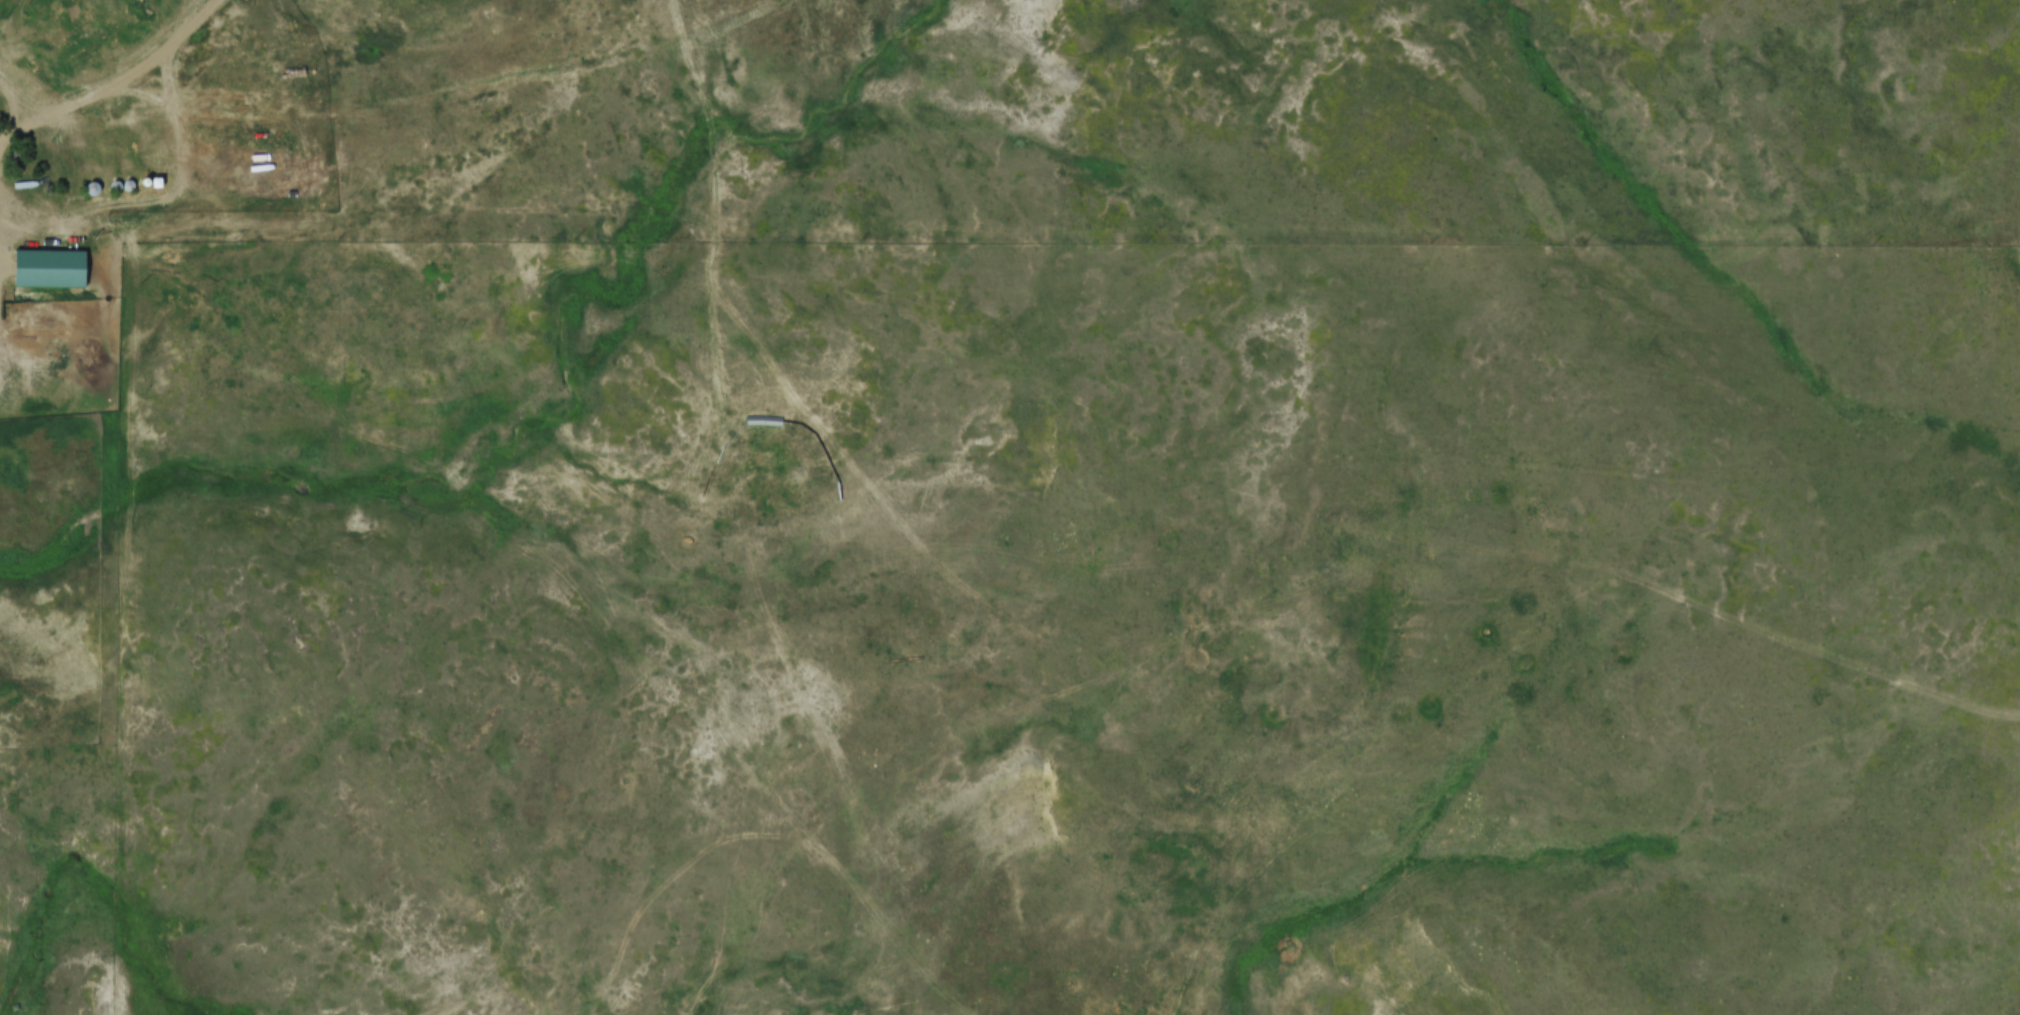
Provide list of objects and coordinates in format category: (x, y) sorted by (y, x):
building: (148, 5)
road: (119, 84)
road: (17, 102)
building: (131, 179)
silo: (131, 179)
building: (119, 180)
silo: (119, 180)
building: (156, 180)
building: (143, 181)
silo: (143, 181)
building: (94, 183)
silo: (94, 183)
building: (49, 265)
dam: (448, 1006)

